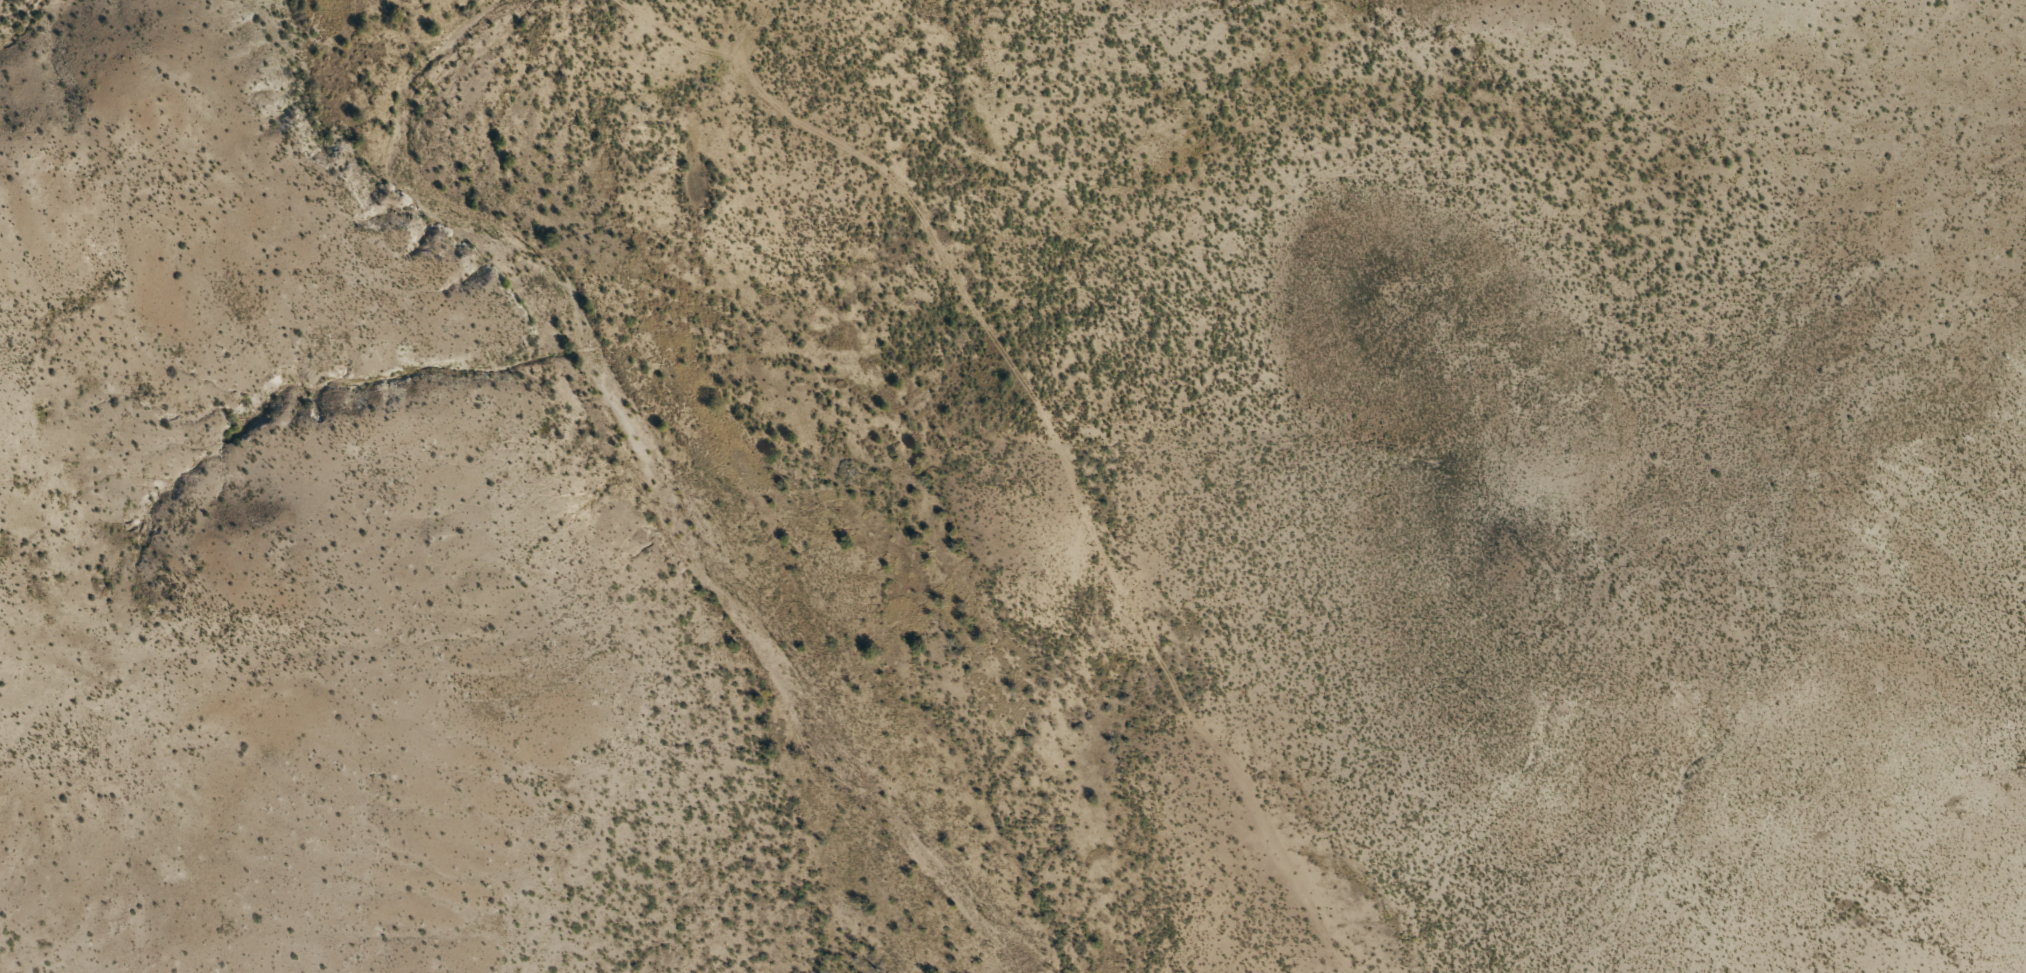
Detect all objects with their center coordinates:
road: (1066, 462)

